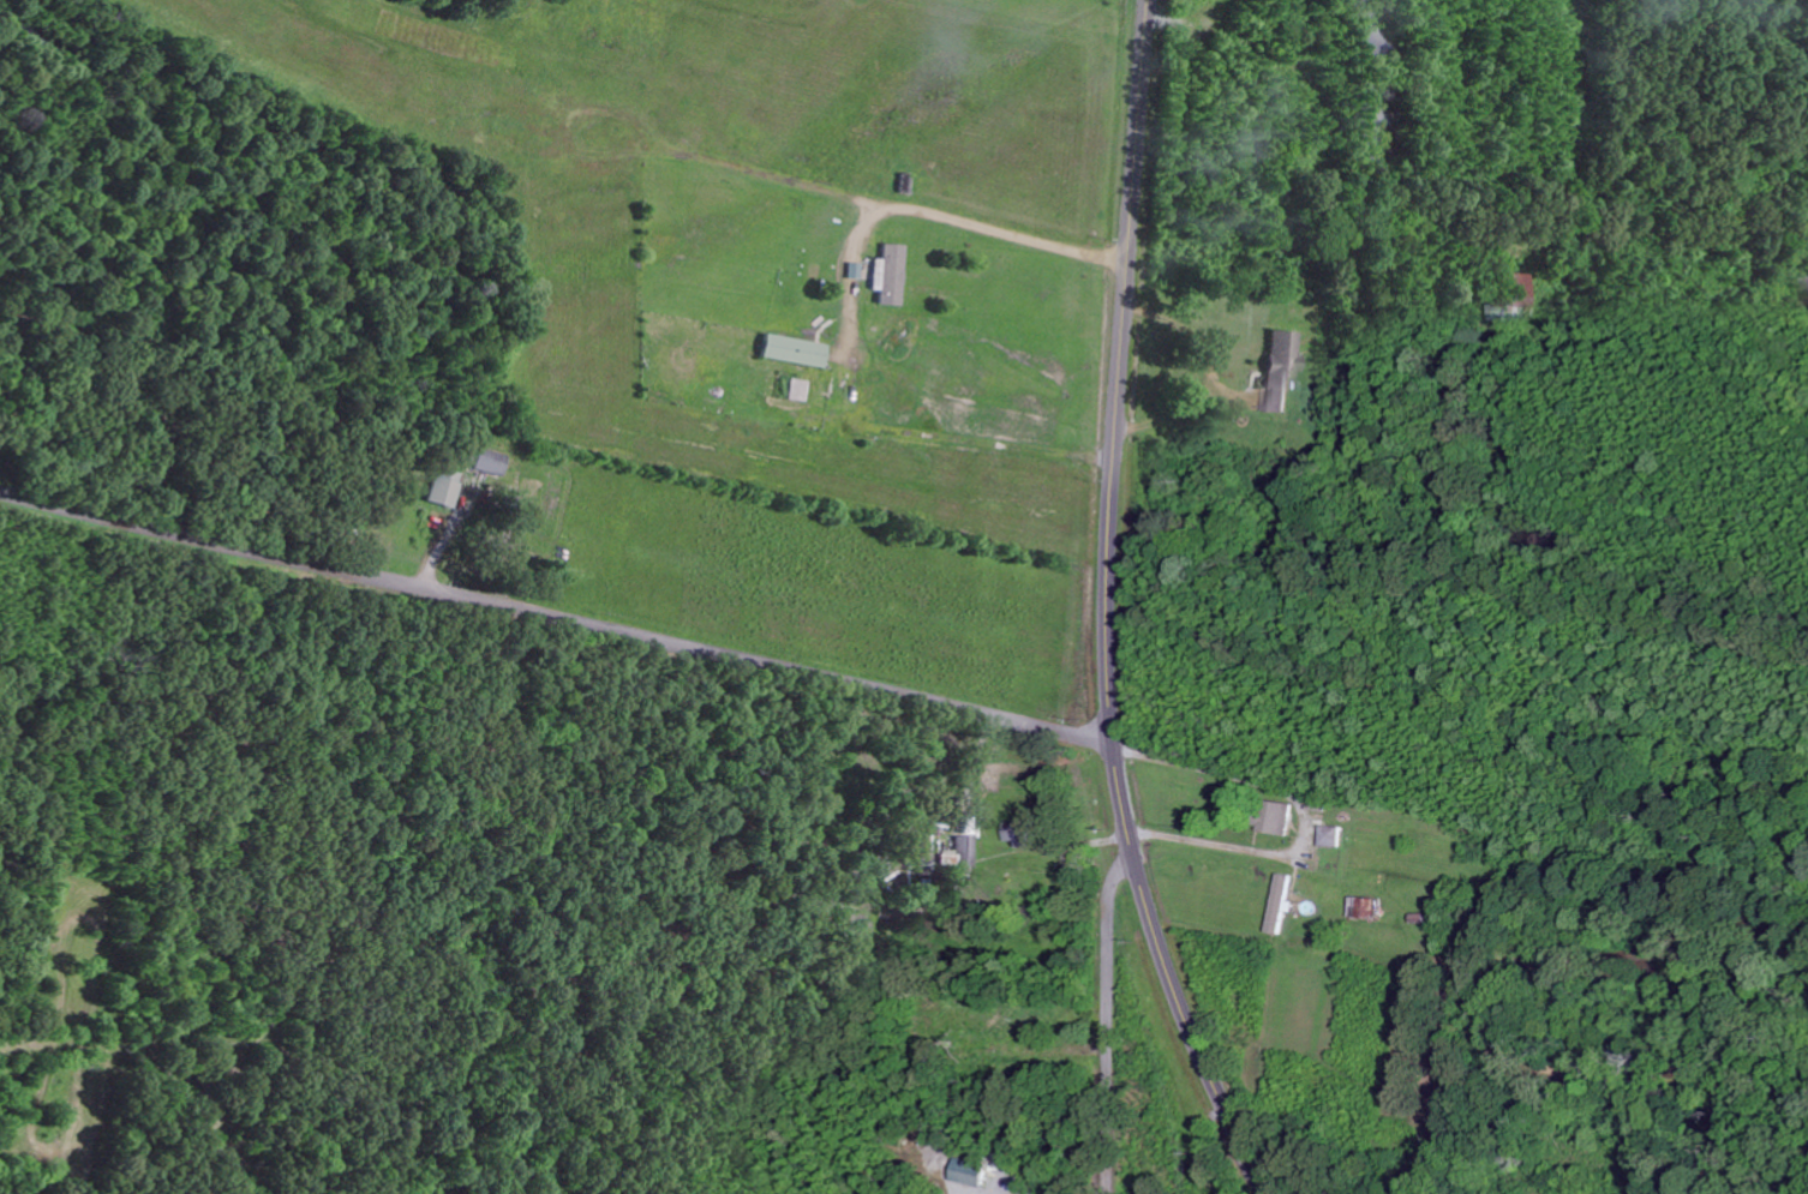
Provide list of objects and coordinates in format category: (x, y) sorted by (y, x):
building: (855, 269)
building: (1511, 295)
building: (795, 349)
building: (1281, 368)
building: (490, 461)
building: (443, 487)
road: (1109, 611)
road: (557, 617)
building: (1279, 817)
building: (1020, 832)
building: (1331, 835)
building: (960, 852)
building: (924, 868)
building: (1281, 904)
building: (1365, 907)
road: (1109, 1013)
building: (972, 1172)

